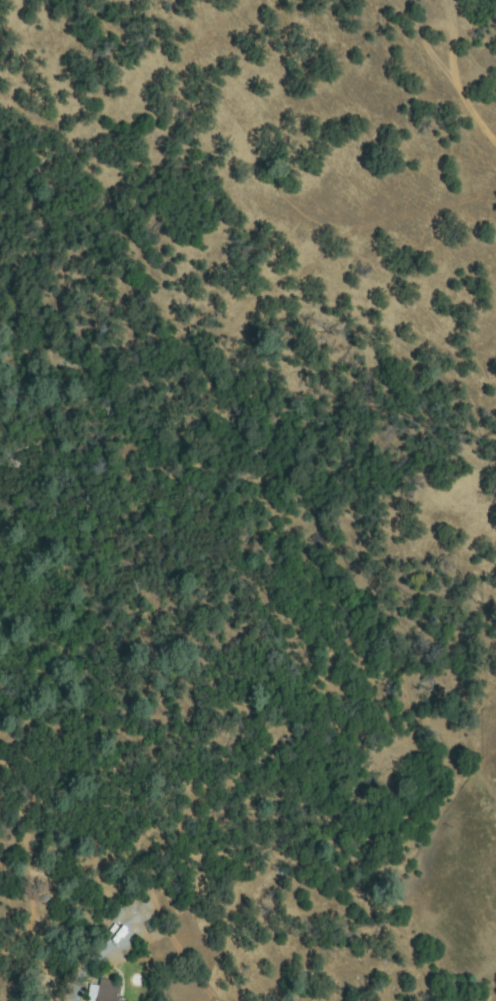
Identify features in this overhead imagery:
building: (104, 992)

